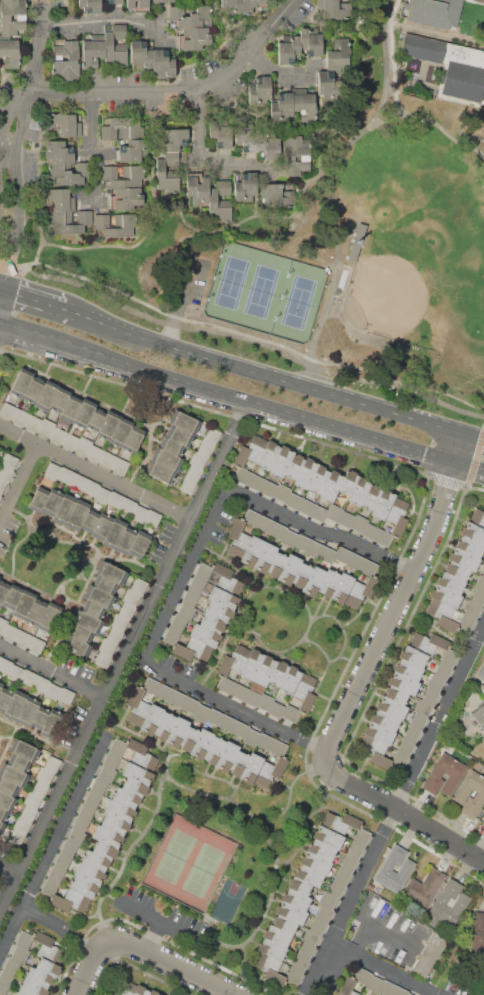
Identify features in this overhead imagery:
building: (114, 1)
building: (163, 1)
building: (479, 1)
building: (137, 5)
building: (252, 5)
building: (89, 6)
building: (231, 6)
building: (333, 10)
building: (433, 12)
building: (191, 16)
building: (13, 17)
road: (100, 19)
building: (194, 39)
building: (309, 43)
building: (116, 45)
building: (287, 50)
building: (93, 52)
building: (10, 53)
building: (141, 53)
building: (339, 53)
road: (389, 57)
building: (66, 60)
building: (164, 62)
building: (451, 67)
road: (273, 72)
building: (328, 86)
road: (182, 91)
building: (260, 91)
road: (23, 99)
building: (305, 103)
building: (282, 106)
building: (64, 124)
building: (121, 127)
building: (219, 136)
building: (249, 138)
road: (3, 139)
road: (90, 140)
building: (173, 140)
road: (199, 141)
building: (133, 150)
building: (273, 150)
building: (60, 151)
building: (295, 154)
road: (331, 166)
building: (166, 172)
building: (68, 173)
building: (122, 176)
building: (246, 186)
building: (197, 187)
building: (278, 195)
building: (125, 198)
building: (58, 199)
building: (220, 200)
building: (81, 223)
building: (113, 225)
building: (347, 240)
park: (422, 258)
park: (359, 261)
parking lot: (192, 284)
road: (32, 295)
park: (267, 295)
road: (180, 305)
road: (70, 307)
road: (242, 338)
road: (269, 374)
building: (21, 382)
building: (34, 390)
building: (47, 395)
road: (240, 399)
building: (60, 400)
building: (70, 408)
building: (8, 410)
building: (84, 413)
building: (20, 416)
building: (96, 419)
building: (33, 422)
building: (185, 422)
building: (108, 425)
building: (46, 427)
building: (121, 431)
building: (212, 434)
road: (474, 434)
building: (58, 435)
building: (179, 435)
road: (483, 435)
building: (133, 439)
building: (70, 441)
building: (83, 445)
building: (172, 447)
building: (206, 447)
building: (256, 448)
building: (95, 453)
building: (269, 454)
building: (242, 456)
building: (108, 459)
building: (166, 459)
building: (9, 460)
building: (198, 460)
building: (282, 462)
building: (120, 466)
building: (294, 466)
building: (52, 471)
road: (96, 472)
building: (160, 472)
building: (193, 472)
building: (5, 473)
building: (306, 473)
building: (65, 475)
building: (242, 475)
building: (319, 479)
building: (78, 482)
building: (256, 482)
building: (348, 482)
road: (19, 483)
building: (2, 485)
building: (188, 485)
building: (332, 486)
building: (91, 487)
building: (269, 488)
building: (359, 491)
building: (282, 492)
building: (102, 495)
building: (0, 496)
building: (371, 496)
building: (38, 499)
building: (115, 499)
building: (293, 501)
building: (52, 502)
building: (383, 504)
building: (128, 506)
building: (306, 507)
building: (64, 509)
building: (397, 509)
building: (334, 512)
building: (139, 513)
building: (319, 513)
building: (78, 515)
building: (252, 517)
building: (477, 517)
building: (152, 518)
building: (346, 519)
building: (90, 521)
building: (359, 523)
building: (266, 524)
building: (399, 526)
building: (102, 527)
building: (278, 531)
building: (370, 531)
building: (473, 532)
building: (114, 533)
road: (324, 533)
building: (383, 537)
building: (289, 538)
building: (238, 539)
building: (126, 540)
building: (302, 542)
building: (140, 544)
building: (470, 546)
building: (314, 549)
building: (252, 551)
building: (327, 554)
building: (342, 554)
building: (265, 557)
building: (464, 559)
building: (355, 561)
building: (277, 564)
building: (369, 567)
building: (289, 569)
building: (457, 570)
building: (111, 572)
building: (203, 572)
road: (187, 574)
building: (302, 575)
building: (483, 575)
building: (214, 576)
building: (227, 580)
building: (314, 581)
building: (329, 582)
building: (450, 582)
building: (480, 583)
building: (104, 584)
building: (139, 585)
building: (197, 585)
building: (342, 588)
building: (3, 591)
building: (361, 591)
road: (406, 595)
building: (12, 596)
building: (445, 596)
building: (99, 597)
building: (131, 597)
building: (190, 597)
building: (478, 597)
building: (224, 598)
building: (23, 604)
building: (93, 609)
building: (473, 609)
building: (127, 610)
building: (186, 611)
building: (218, 611)
building: (36, 612)
building: (443, 615)
building: (48, 619)
building: (87, 621)
building: (119, 622)
building: (178, 622)
building: (466, 622)
building: (212, 623)
building: (2, 624)
building: (10, 632)
building: (80, 633)
building: (115, 634)
building: (171, 635)
building: (205, 636)
building: (23, 638)
building: (429, 643)
building: (36, 645)
building: (107, 646)
building: (77, 647)
building: (192, 650)
building: (413, 656)
building: (0, 657)
building: (449, 657)
building: (103, 659)
road: (126, 660)
building: (234, 660)
building: (252, 664)
building: (5, 665)
building: (409, 669)
building: (443, 670)
building: (481, 671)
road: (54, 672)
building: (279, 672)
building: (15, 673)
building: (263, 674)
building: (28, 677)
building: (290, 680)
building: (435, 682)
building: (41, 683)
building: (403, 683)
building: (226, 684)
building: (1, 685)
building: (152, 686)
building: (239, 691)
building: (52, 692)
building: (165, 693)
building: (305, 693)
building: (396, 694)
building: (65, 696)
building: (430, 696)
building: (252, 697)
building: (4, 698)
building: (178, 699)
building: (265, 702)
building: (190, 704)
building: (15, 705)
building: (137, 707)
road: (238, 707)
building: (391, 707)
building: (422, 707)
building: (276, 709)
building: (28, 711)
building: (201, 712)
building: (290, 713)
building: (479, 714)
building: (40, 717)
building: (215, 717)
building: (152, 719)
building: (385, 720)
building: (418, 720)
building: (53, 723)
building: (227, 723)
building: (165, 726)
building: (240, 729)
building: (177, 732)
building: (379, 732)
building: (412, 733)
building: (252, 737)
building: (190, 739)
building: (264, 741)
building: (201, 744)
building: (405, 746)
building: (117, 747)
building: (278, 747)
building: (24, 750)
building: (214, 750)
building: (376, 752)
building: (141, 755)
building: (227, 756)
building: (399, 759)
building: (110, 760)
building: (18, 762)
building: (239, 763)
building: (52, 764)
building: (252, 768)
building: (107, 773)
building: (138, 773)
building: (269, 773)
building: (454, 774)
building: (13, 775)
building: (44, 775)
building: (99, 784)
building: (8, 787)
building: (135, 787)
building: (40, 788)
road: (409, 789)
building: (461, 794)
building: (93, 797)
building: (125, 797)
building: (32, 799)
building: (6, 801)
building: (87, 810)
building: (120, 810)
road: (400, 810)
building: (28, 812)
building: (2, 814)
building: (340, 822)
building: (81, 823)
building: (21, 824)
building: (115, 824)
building: (483, 825)
building: (1, 826)
building: (76, 836)
building: (107, 836)
building: (328, 836)
building: (361, 836)
building: (16, 838)
road: (54, 845)
building: (68, 848)
building: (322, 849)
building: (105, 850)
building: (355, 850)
building: (95, 860)
building: (62, 861)
building: (315, 862)
building: (349, 863)
building: (396, 868)
road: (10, 871)
building: (89, 873)
building: (56, 874)
building: (309, 875)
building: (342, 875)
building: (299, 885)
building: (49, 887)
building: (84, 887)
building: (424, 887)
building: (336, 888)
building: (296, 898)
building: (327, 899)
building: (71, 901)
building: (448, 904)
building: (291, 912)
building: (324, 913)
building: (284, 924)
building: (318, 925)
road: (64, 926)
building: (478, 930)
building: (277, 936)
building: (310, 936)
building: (24, 940)
building: (47, 947)
building: (272, 949)
building: (307, 950)
building: (20, 954)
building: (429, 955)
building: (301, 963)
road: (174, 964)
building: (12, 965)
road: (93, 965)
building: (48, 968)
building: (269, 968)
road: (319, 969)
road: (386, 969)
building: (294, 975)
building: (362, 975)
building: (6, 977)
building: (38, 978)
building: (374, 984)
building: (348, 987)
building: (387, 988)
building: (3, 989)
building: (31, 989)
building: (124, 989)
building: (141, 990)
building: (400, 991)
building: (18, 993)
building: (153, 993)
building: (410, 994)

